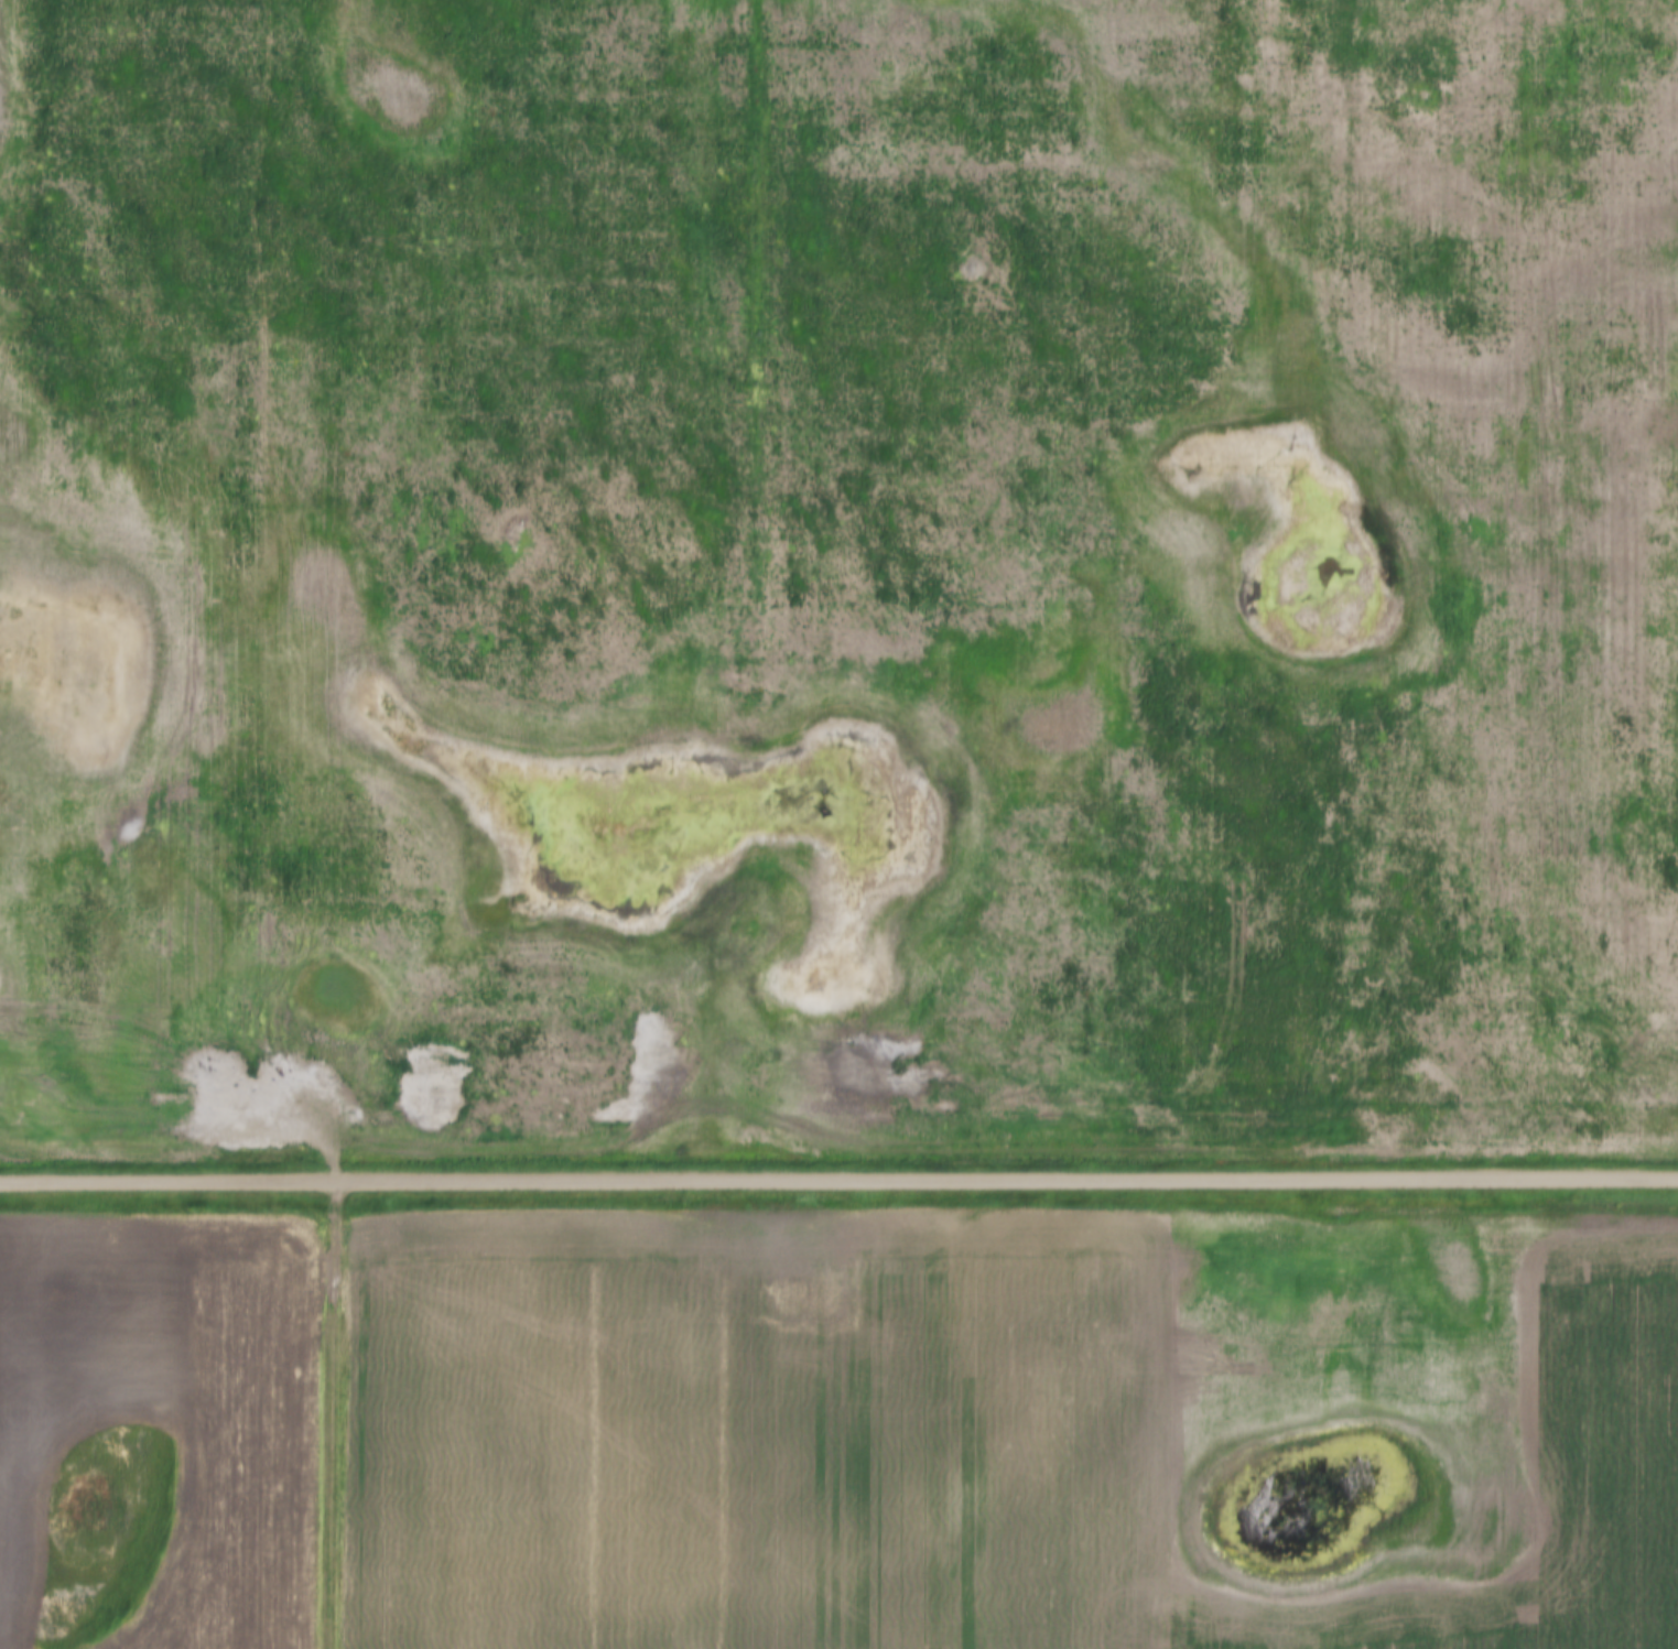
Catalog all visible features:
road: (838, 1179)

